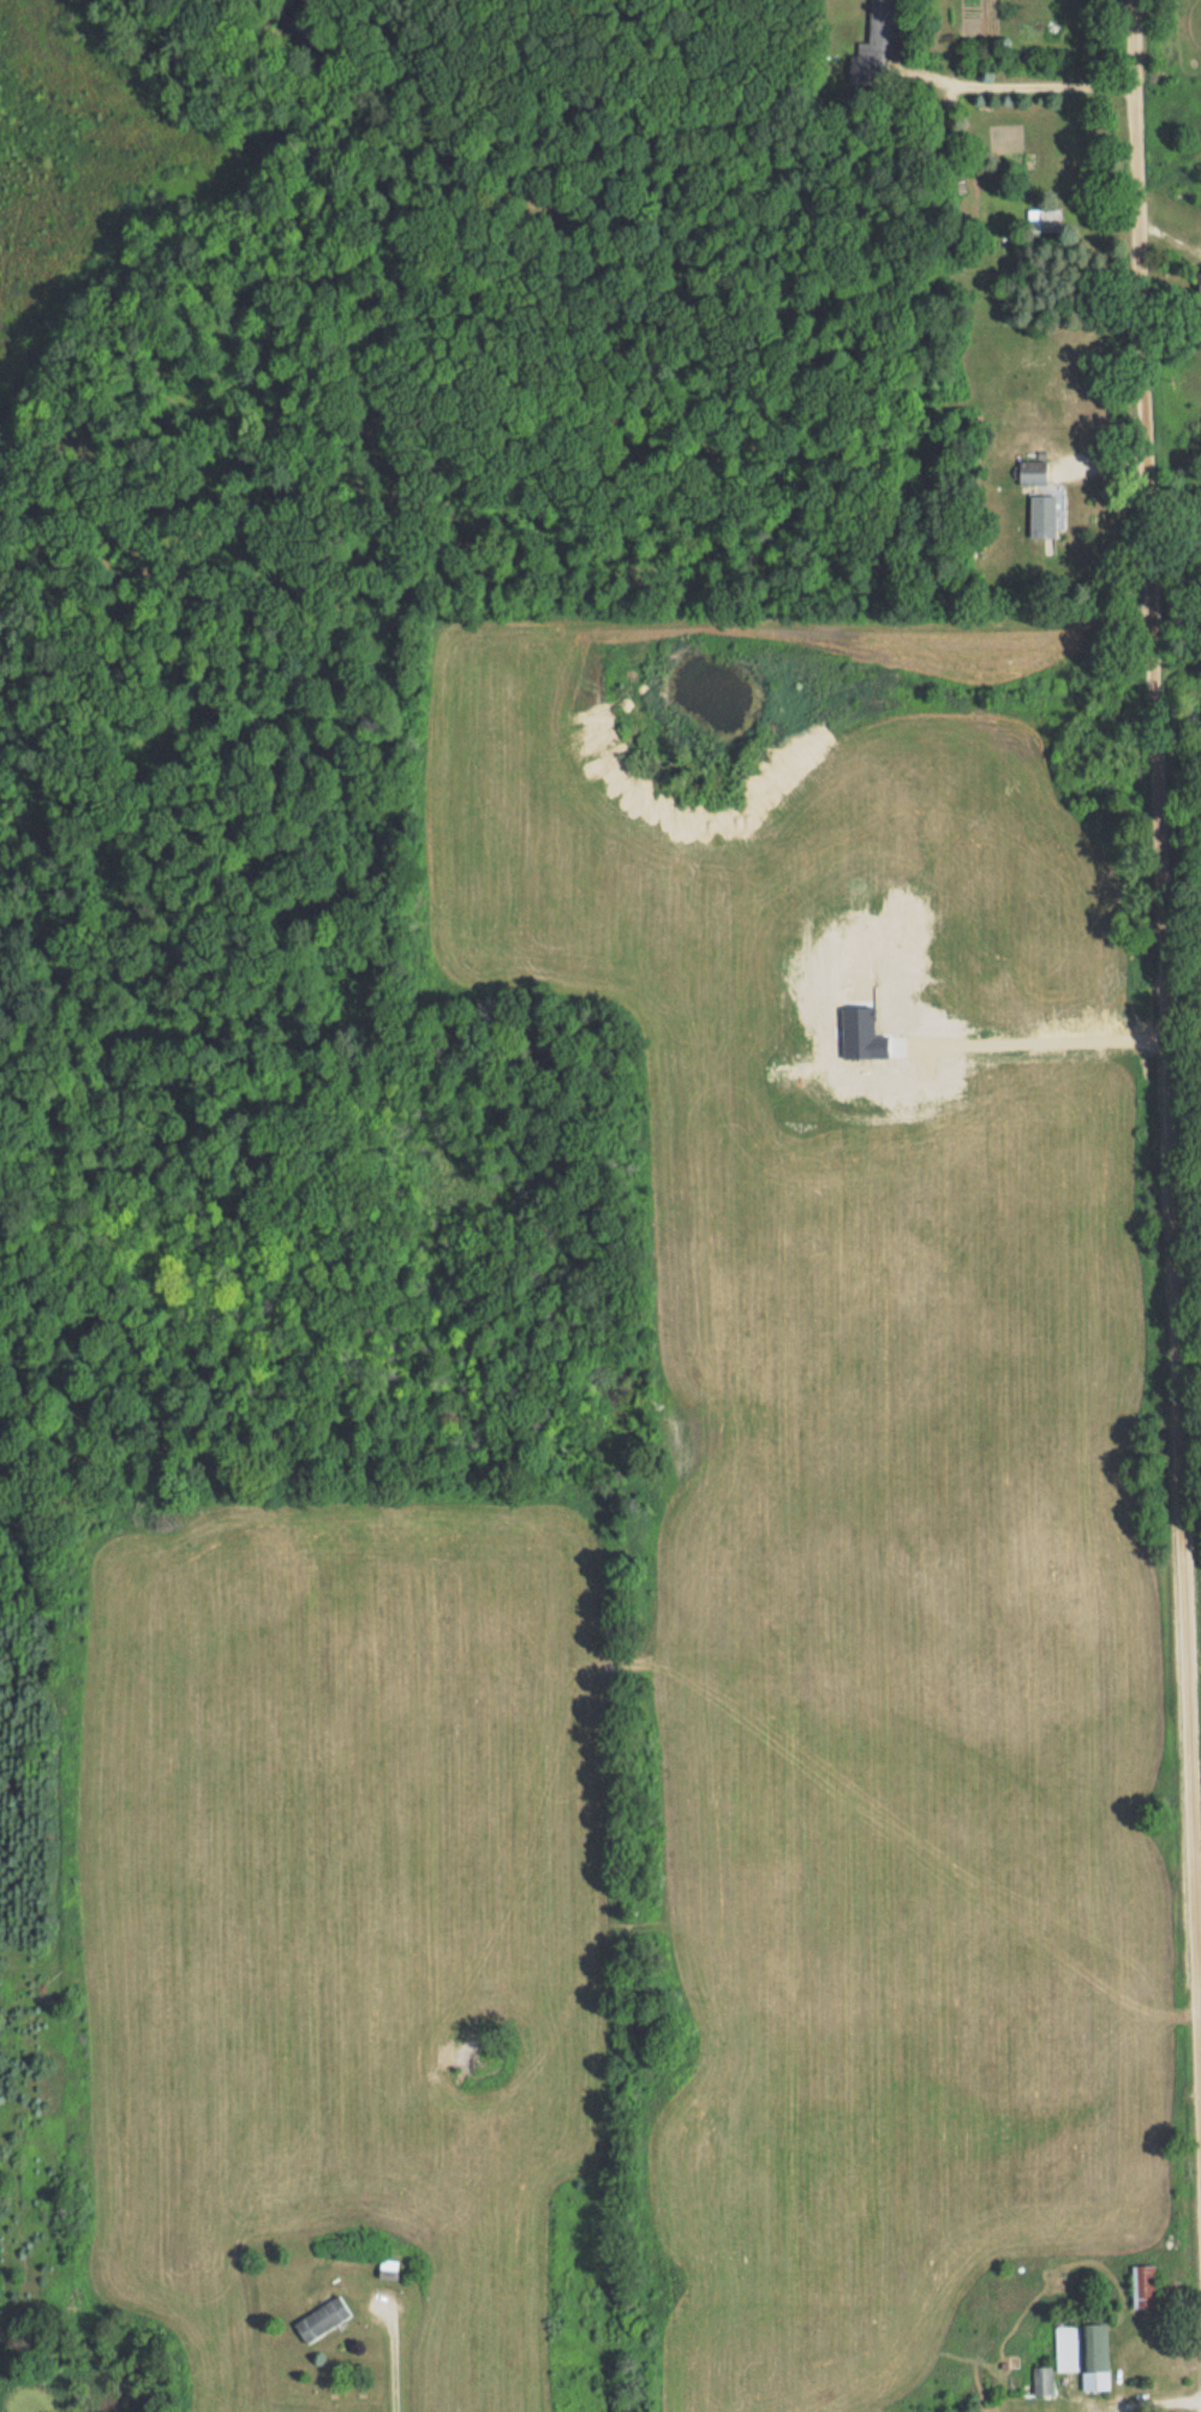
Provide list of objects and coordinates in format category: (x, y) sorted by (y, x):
building: (877, 38)
road: (1028, 83)
building: (1050, 220)
building: (1200, 280)
building: (1032, 472)
building: (1045, 517)
road: (1167, 1049)
building: (388, 2269)
building: (1143, 2291)
building: (322, 2320)
building: (1083, 2348)
road: (393, 2352)
building: (1042, 2381)

